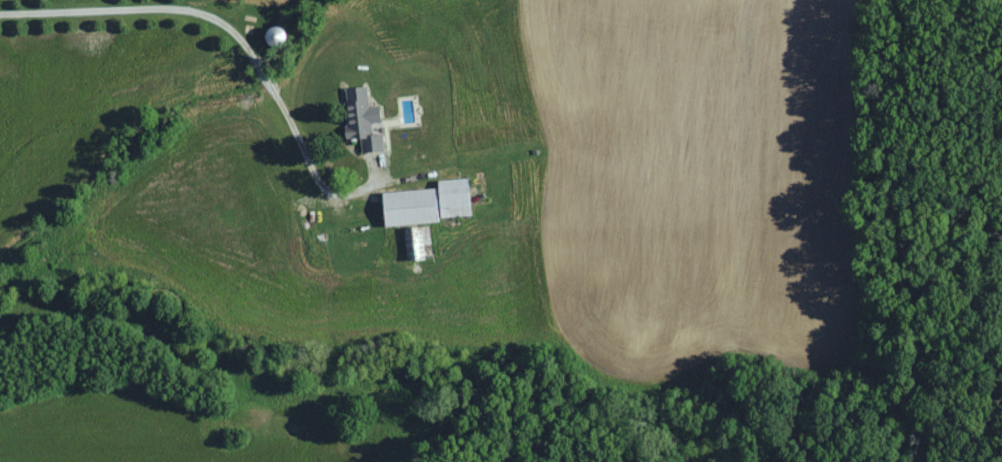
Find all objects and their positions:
building: (364, 120)
building: (431, 204)
building: (418, 243)

